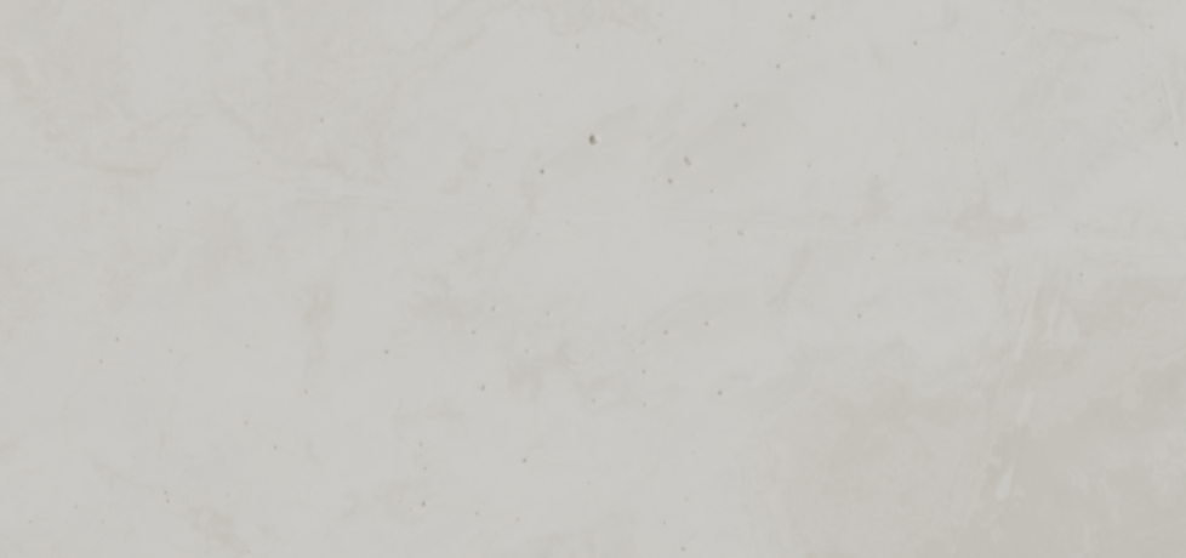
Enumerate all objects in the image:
building: (701, 176)
building: (557, 378)

